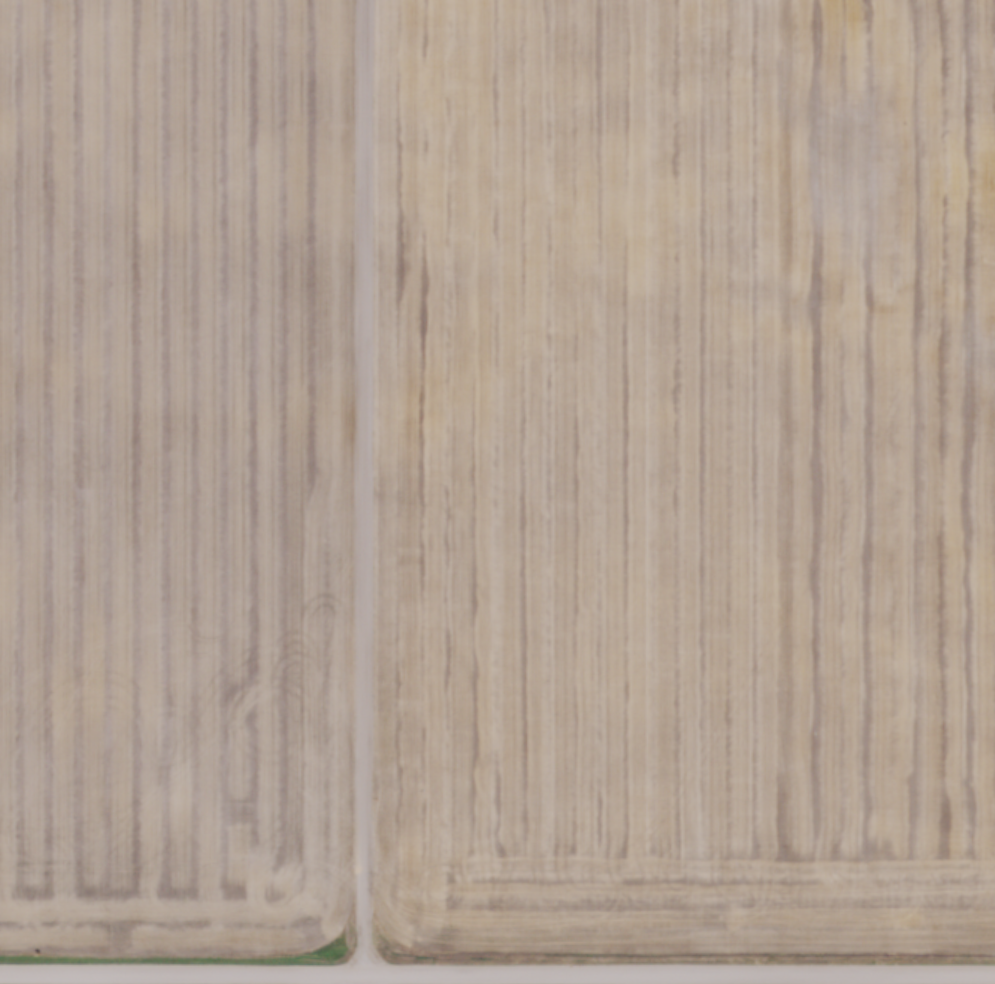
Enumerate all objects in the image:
road: (363, 486)
road: (497, 971)
road: (366, 978)

